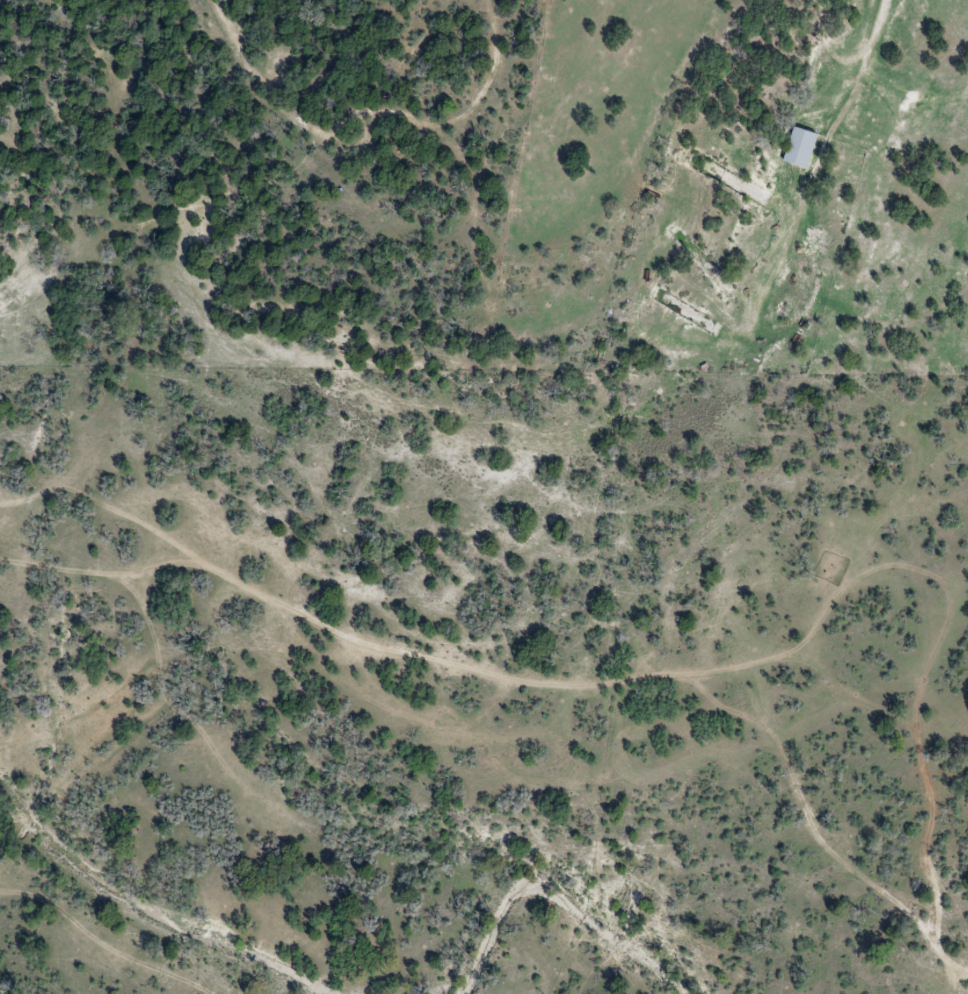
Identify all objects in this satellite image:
building: (804, 145)

